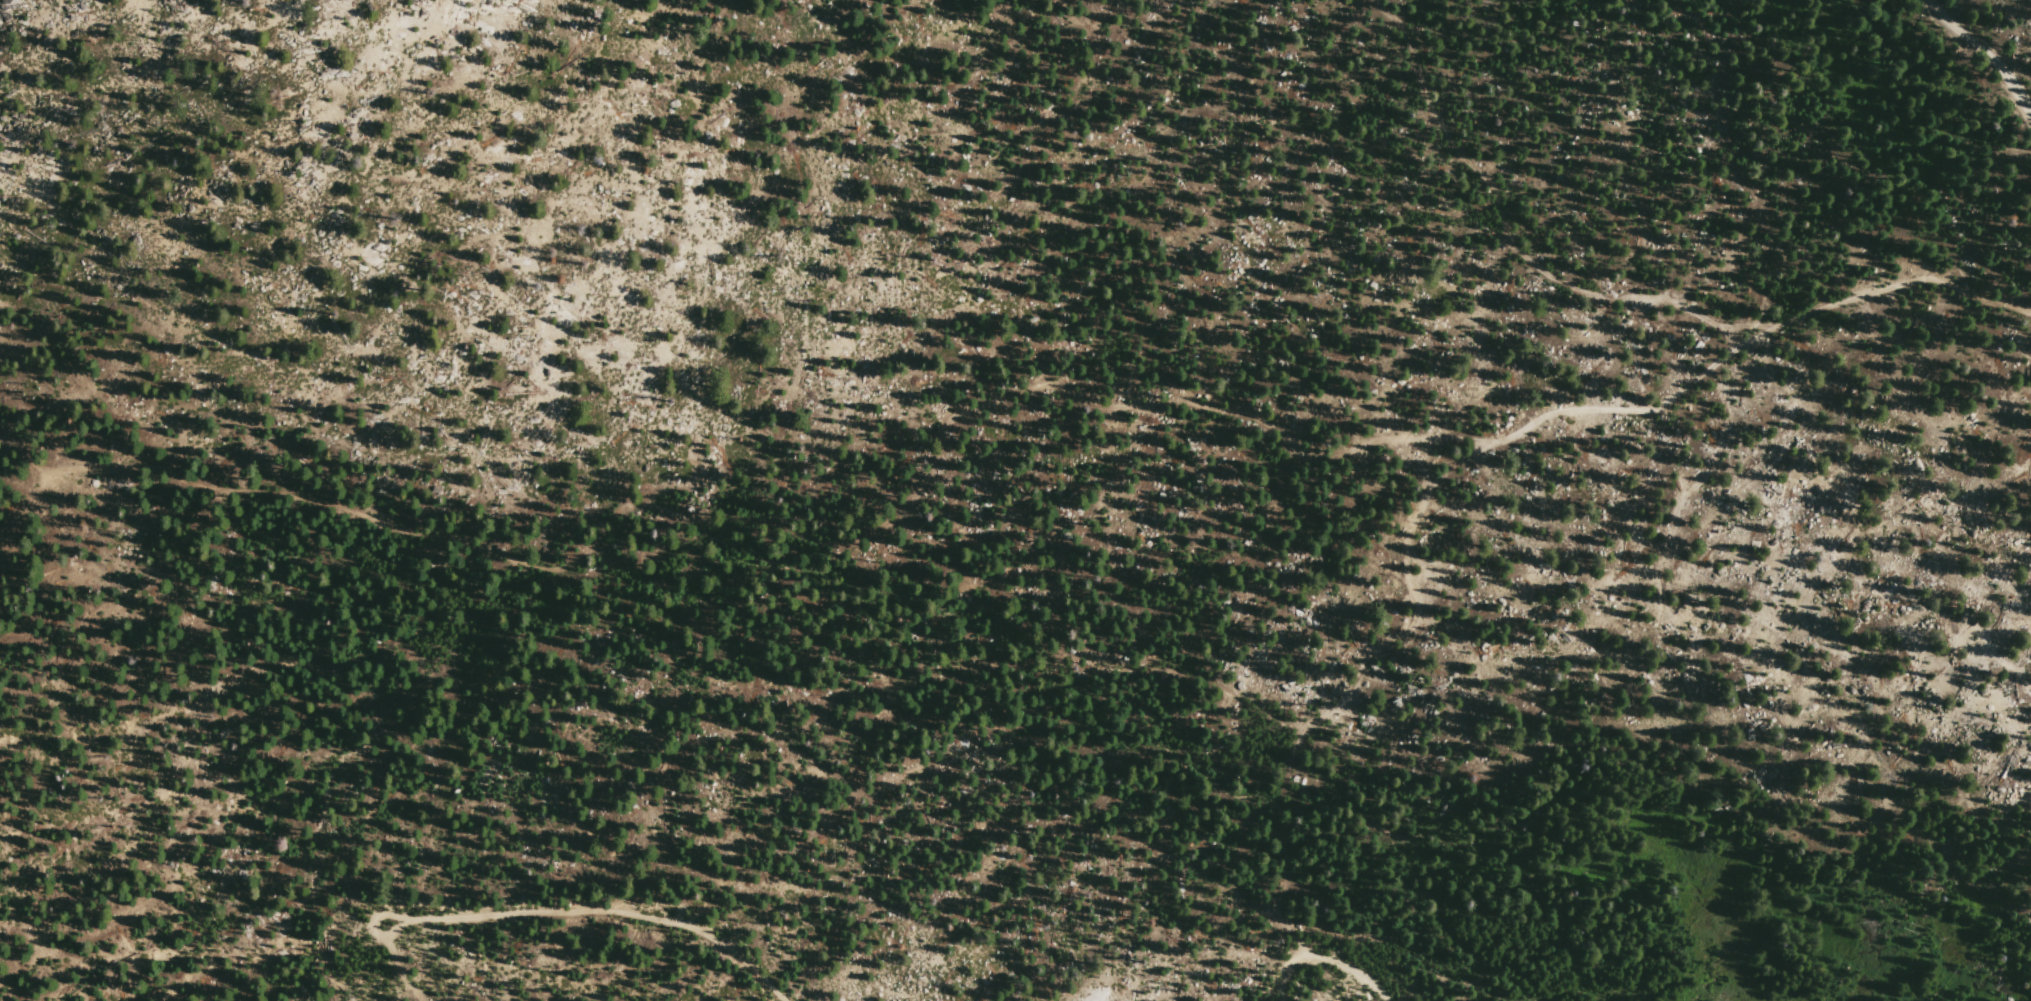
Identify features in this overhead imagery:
road: (1987, 57)
road: (1509, 241)
road: (983, 397)
road: (16, 470)
road: (1690, 489)
road: (1401, 625)
road: (1998, 657)
road: (609, 901)
road: (371, 922)
road: (266, 949)
road: (1321, 959)

